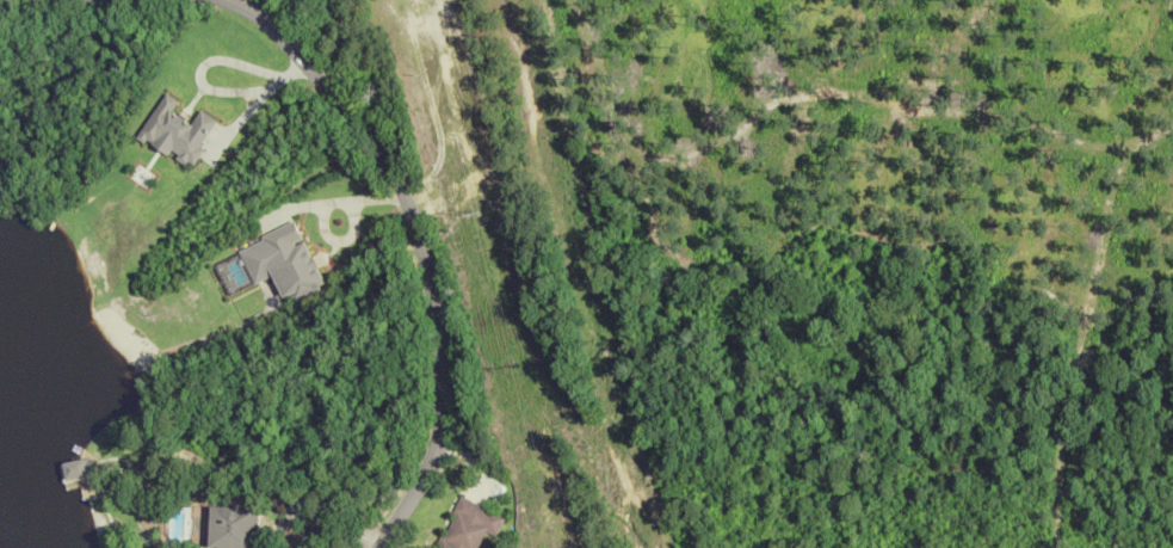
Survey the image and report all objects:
road: (7, 0)
road: (255, 103)
road: (320, 211)
road: (418, 250)
building: (283, 261)
building: (76, 468)
building: (234, 524)
building: (468, 525)

